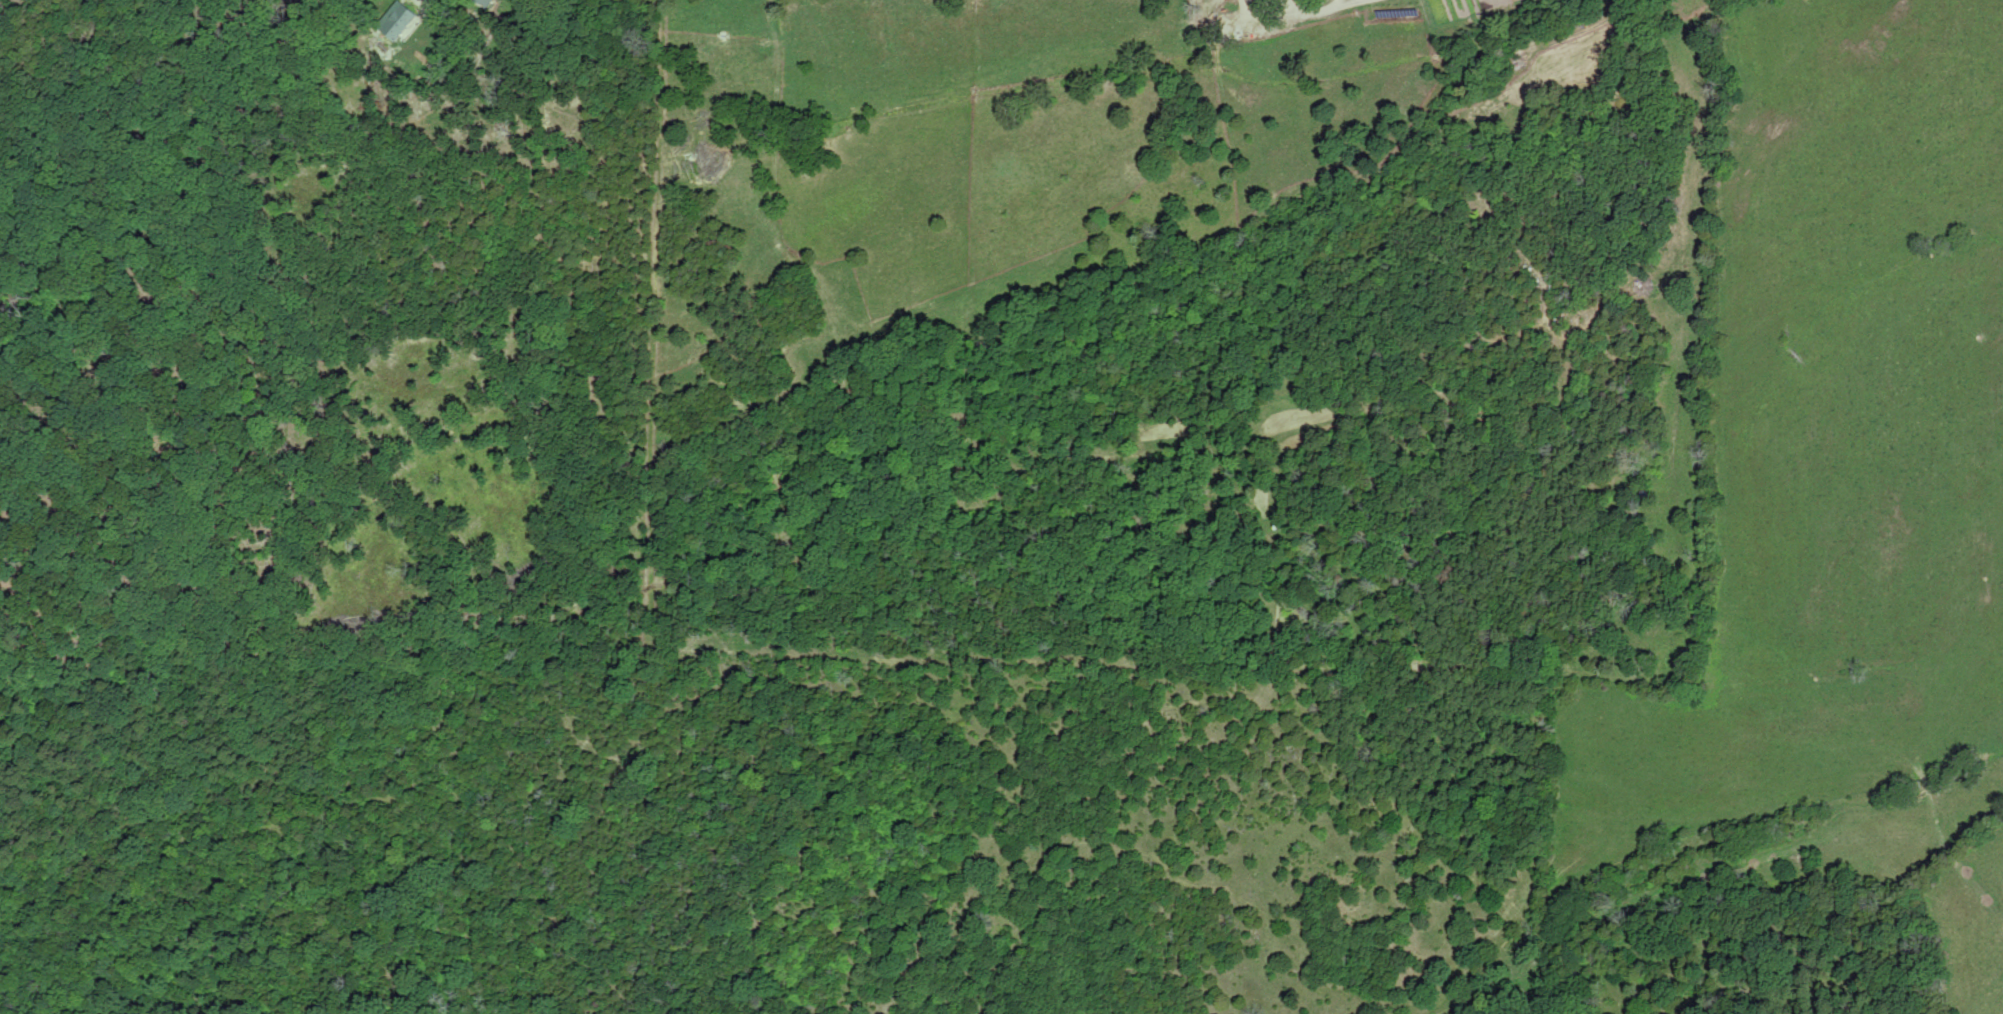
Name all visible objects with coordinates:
road: (1323, 14)
road: (529, 778)

